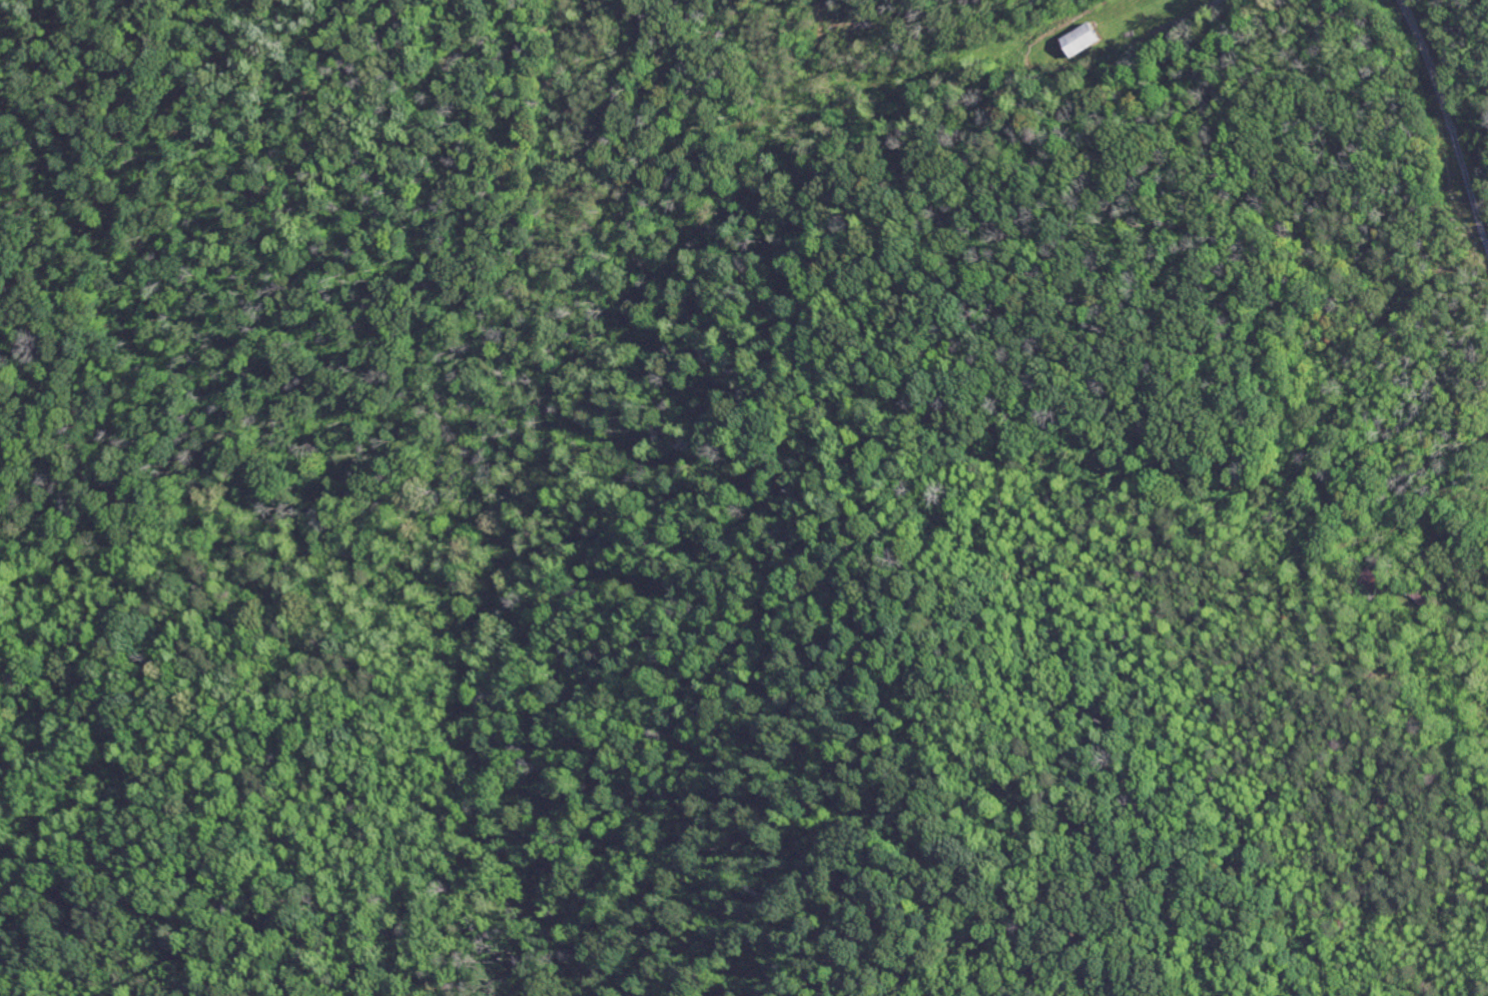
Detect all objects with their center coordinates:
building: (1080, 41)

